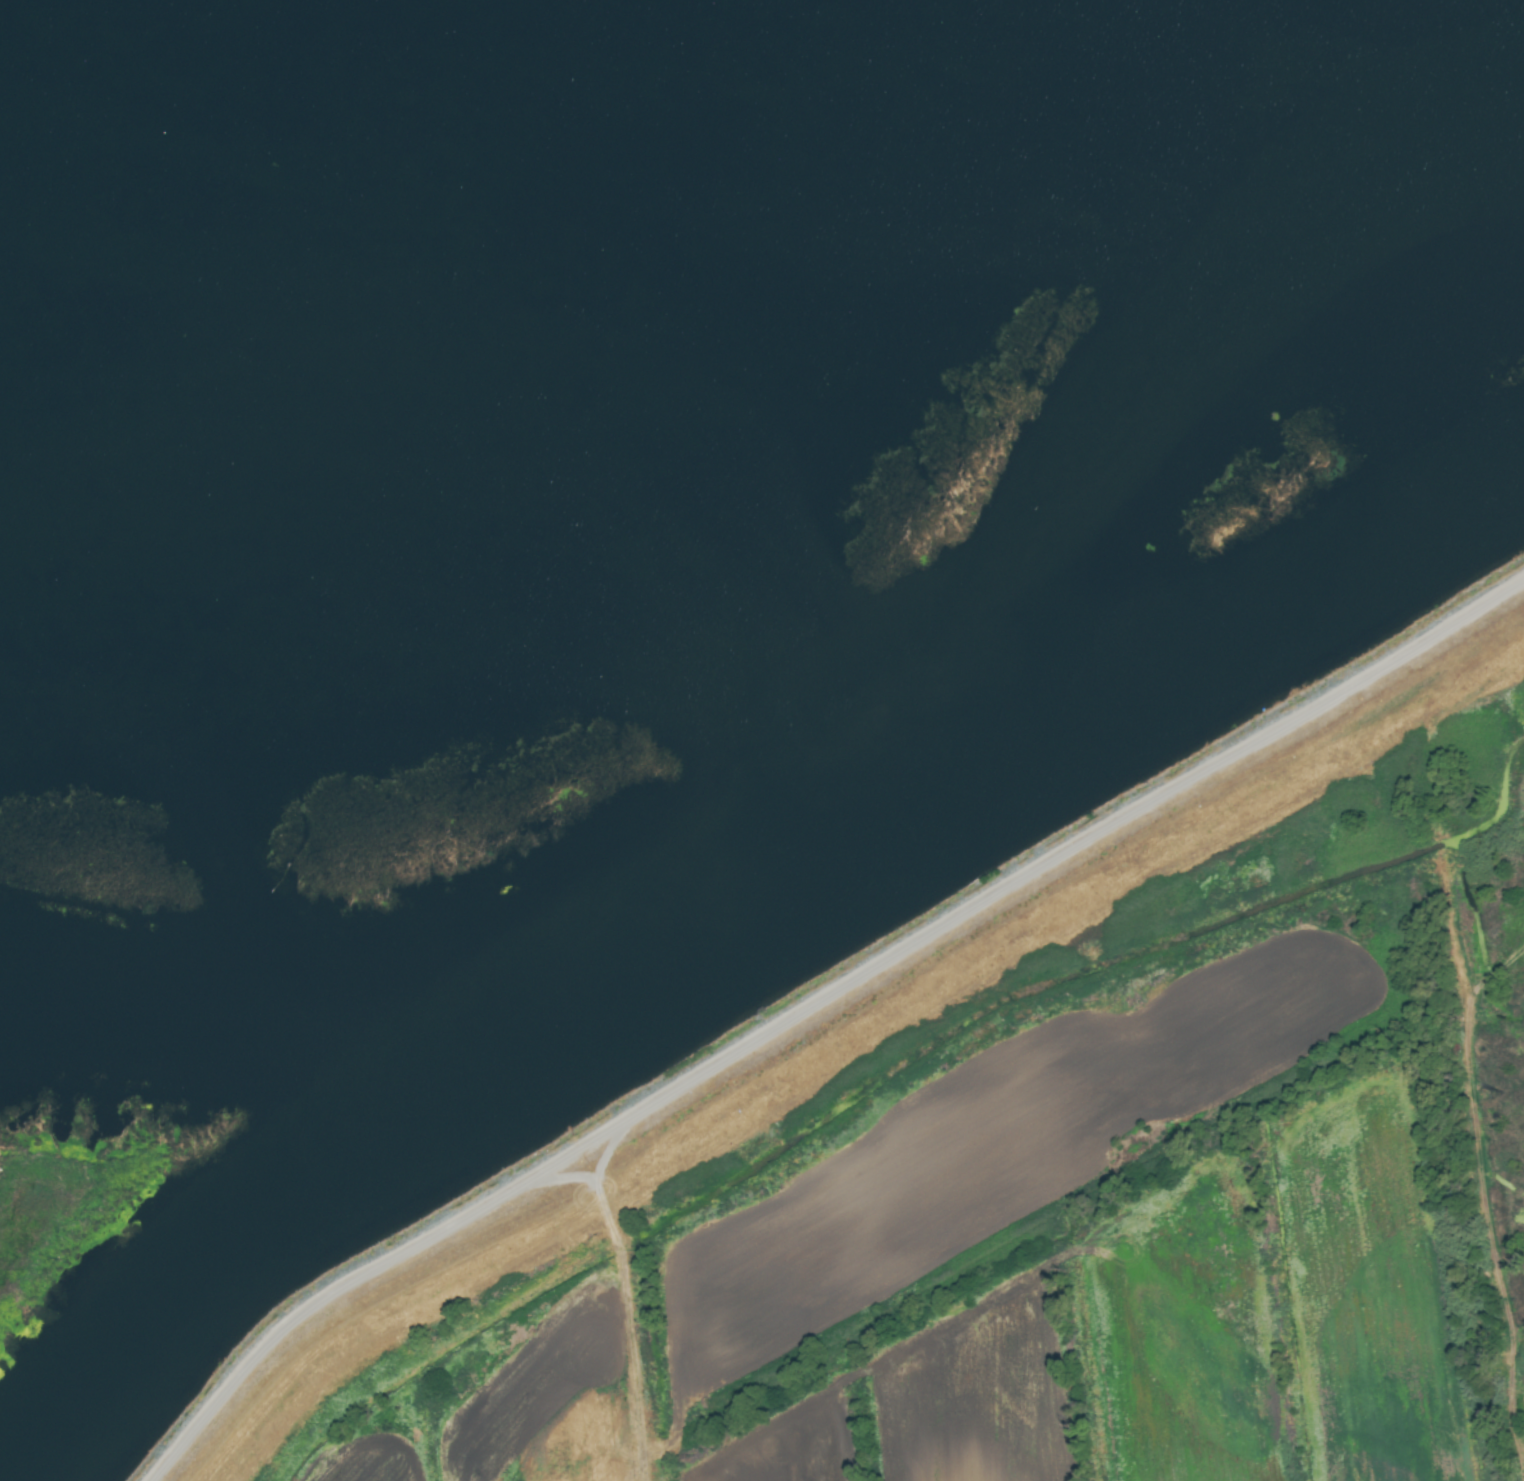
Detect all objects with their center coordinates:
crop: (1056, 1172)

